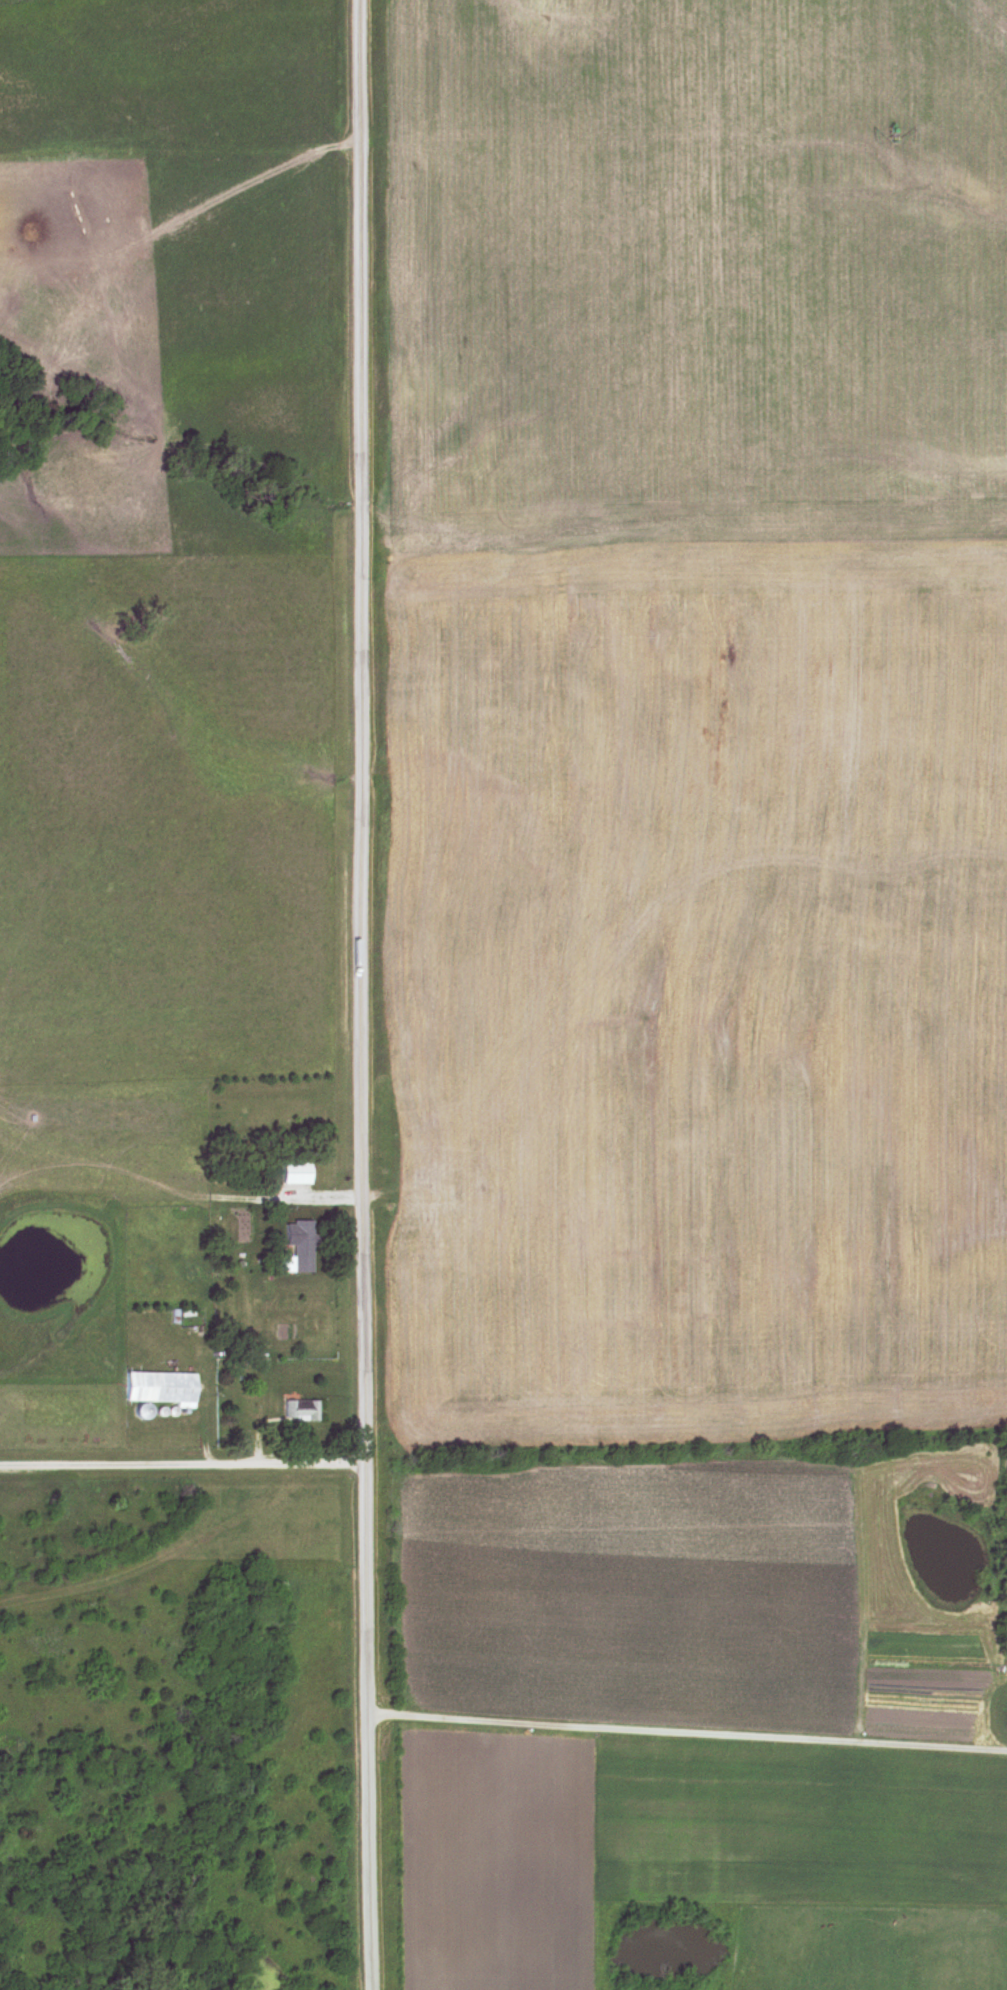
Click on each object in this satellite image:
road: (362, 995)
building: (306, 1238)
road: (228, 1329)
building: (159, 1387)
building: (298, 1410)
road: (182, 1470)
road: (687, 1738)

